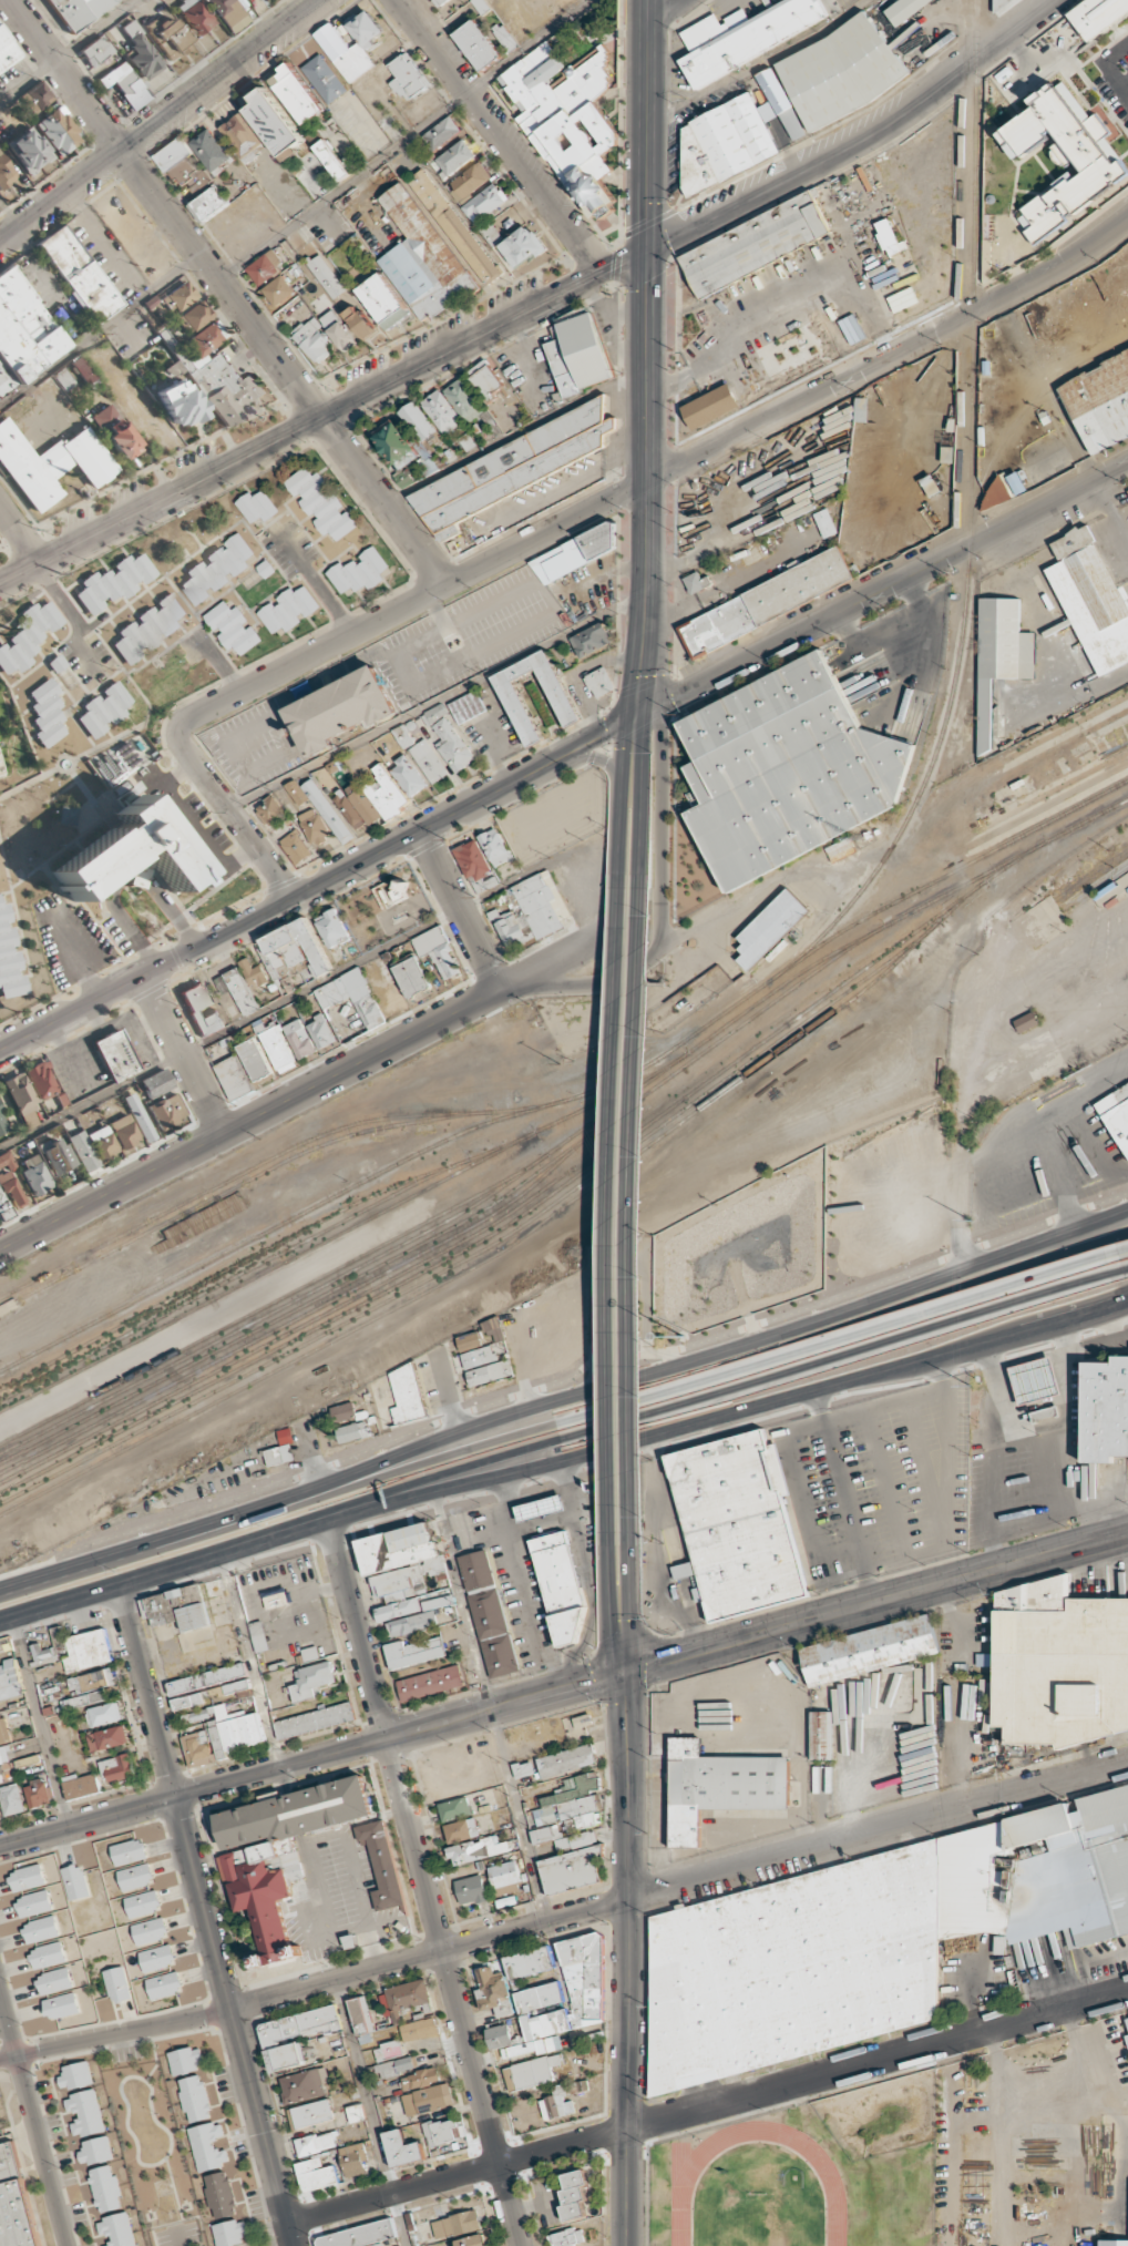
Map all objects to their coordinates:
building: (248, 0)
building: (439, 2)
building: (997, 2)
building: (481, 6)
road: (664, 7)
building: (903, 9)
building: (79, 11)
building: (228, 13)
building: (195, 16)
building: (1098, 16)
building: (366, 29)
building: (745, 34)
building: (170, 37)
building: (505, 37)
building: (478, 44)
road: (69, 51)
building: (96, 51)
building: (142, 52)
building: (7, 53)
building: (345, 53)
building: (840, 71)
building: (408, 78)
building: (324, 79)
building: (126, 85)
building: (296, 93)
building: (34, 99)
building: (781, 103)
building: (567, 120)
road: (161, 122)
building: (274, 122)
road: (646, 122)
building: (59, 132)
building: (441, 133)
road: (502, 133)
building: (242, 136)
road: (402, 139)
road: (858, 139)
building: (726, 143)
building: (29, 151)
building: (211, 151)
building: (1063, 156)
building: (454, 157)
building: (332, 160)
building: (184, 166)
building: (6, 174)
building: (470, 181)
building: (485, 203)
building: (209, 204)
building: (454, 227)
building: (493, 236)
building: (753, 243)
building: (523, 246)
building: (422, 258)
building: (265, 268)
building: (79, 274)
building: (326, 275)
building: (278, 290)
road: (227, 292)
building: (178, 298)
building: (383, 302)
building: (193, 317)
building: (359, 321)
road: (100, 328)
building: (338, 330)
building: (23, 333)
building: (312, 339)
building: (578, 353)
building: (83, 371)
building: (216, 376)
building: (63, 380)
building: (485, 380)
building: (1099, 399)
building: (464, 400)
building: (180, 404)
building: (709, 405)
building: (442, 411)
building: (103, 416)
road: (324, 416)
building: (120, 439)
building: (409, 440)
building: (50, 464)
building: (510, 469)
road: (659, 474)
road: (648, 483)
building: (930, 484)
building: (1004, 490)
building: (320, 503)
building: (257, 507)
railway: (966, 518)
building: (824, 522)
road: (20, 533)
building: (575, 552)
building: (217, 569)
building: (266, 569)
building: (359, 571)
building: (697, 582)
building: (114, 583)
road: (880, 591)
road: (54, 596)
building: (1091, 598)
building: (763, 601)
building: (288, 609)
building: (233, 627)
building: (148, 629)
building: (28, 637)
building: (591, 640)
road: (655, 643)
building: (998, 655)
building: (598, 682)
building: (561, 698)
traffic signals: (662, 704)
building: (466, 706)
building: (340, 708)
building: (104, 709)
building: (47, 714)
traffic signals: (634, 722)
building: (402, 736)
building: (448, 738)
railway: (1011, 757)
road: (601, 758)
road: (642, 759)
building: (428, 760)
road: (623, 760)
building: (1, 769)
building: (783, 772)
building: (408, 776)
railway: (987, 786)
building: (386, 793)
building: (362, 803)
building: (319, 806)
building: (349, 809)
road: (229, 810)
building: (269, 810)
railway: (1005, 815)
building: (314, 826)
road: (662, 839)
building: (295, 847)
building: (494, 847)
railway: (991, 851)
building: (127, 854)
building: (473, 860)
railway: (1100, 871)
road: (639, 882)
road: (316, 885)
railway: (1104, 885)
road: (619, 889)
railway: (964, 898)
road: (459, 910)
building: (526, 910)
railway: (889, 922)
building: (768, 927)
building: (332, 928)
road: (715, 937)
building: (438, 951)
building: (294, 954)
building: (10, 958)
building: (254, 973)
building: (412, 977)
road: (577, 984)
building: (237, 990)
building: (352, 996)
building: (195, 1007)
railway: (727, 1018)
building: (1026, 1022)
building: (320, 1031)
building: (299, 1039)
building: (276, 1047)
building: (116, 1055)
road: (183, 1055)
building: (254, 1059)
railway: (646, 1066)
building: (234, 1078)
building: (42, 1081)
building: (156, 1084)
road: (302, 1092)
building: (22, 1101)
building: (167, 1112)
building: (1117, 1114)
building: (140, 1117)
building: (3, 1124)
building: (124, 1132)
building: (103, 1143)
building: (83, 1152)
building: (57, 1155)
building: (7, 1161)
railway: (267, 1171)
building: (35, 1175)
railway: (216, 1185)
building: (9, 1195)
railway: (504, 1216)
railway: (455, 1223)
railway: (505, 1227)
railway: (387, 1231)
road: (1125, 1245)
road: (634, 1248)
road: (612, 1254)
railway: (254, 1255)
road: (1126, 1264)
railway: (342, 1265)
railway: (271, 1269)
railway: (455, 1275)
railway: (223, 1282)
railway: (245, 1294)
railway: (260, 1318)
railway: (294, 1320)
railway: (434, 1325)
building: (494, 1329)
railway: (64, 1337)
building: (469, 1341)
road: (724, 1349)
building: (479, 1357)
railway: (271, 1362)
building: (490, 1372)
road: (721, 1372)
building: (1034, 1379)
road: (725, 1389)
road: (447, 1390)
building: (407, 1395)
building: (1105, 1409)
building: (343, 1412)
building: (1043, 1412)
road: (730, 1420)
railway: (265, 1425)
building: (352, 1431)
road: (310, 1453)
building: (279, 1454)
building: (541, 1507)
building: (737, 1525)
road: (160, 1540)
building: (403, 1570)
road: (614, 1572)
road: (625, 1572)
road: (164, 1574)
building: (562, 1585)
building: (276, 1600)
road: (876, 1602)
building: (178, 1607)
building: (489, 1612)
building: (419, 1617)
building: (259, 1635)
building: (75, 1648)
building: (869, 1650)
building: (414, 1652)
building: (310, 1653)
road: (250, 1662)
building: (1056, 1663)
traffic signals: (625, 1672)
building: (207, 1678)
building: (311, 1680)
building: (10, 1681)
building: (91, 1682)
building: (429, 1682)
road: (146, 1693)
building: (209, 1694)
building: (86, 1698)
road: (490, 1711)
building: (104, 1714)
building: (314, 1719)
building: (4, 1731)
road: (400, 1734)
building: (821, 1734)
building: (106, 1737)
building: (4, 1755)
building: (566, 1760)
building: (117, 1767)
building: (523, 1769)
building: (0, 1779)
building: (81, 1786)
building: (718, 1787)
building: (38, 1793)
building: (12, 1799)
building: (573, 1804)
building: (454, 1807)
building: (294, 1813)
road: (88, 1820)
building: (460, 1829)
building: (563, 1837)
building: (474, 1849)
building: (127, 1851)
building: (381, 1864)
building: (571, 1870)
building: (25, 1876)
building: (134, 1876)
building: (505, 1878)
building: (74, 1880)
road: (421, 1885)
building: (471, 1889)
building: (264, 1891)
parking lot: (337, 1897)
building: (32, 1902)
building: (142, 1902)
road: (564, 1912)
building: (40, 1928)
road: (624, 1929)
building: (148, 1930)
building: (870, 1938)
building: (47, 1954)
building: (156, 1957)
building: (527, 1961)
building: (53, 1980)
building: (584, 1980)
building: (116, 1983)
building: (163, 1984)
building: (492, 1987)
building: (409, 1995)
building: (537, 1997)
building: (60, 2004)
building: (361, 2019)
road: (234, 2021)
building: (1126, 2023)
building: (545, 2024)
building: (419, 2029)
building: (499, 2036)
building: (1127, 2039)
building: (530, 2048)
building: (389, 2050)
building: (287, 2055)
building: (184, 2061)
building: (394, 2066)
building: (530, 2072)
building: (1046, 2072)
building: (75, 2075)
building: (420, 2079)
building: (304, 2084)
building: (195, 2099)
building: (428, 2100)
building: (562, 2100)
road: (708, 2106)
building: (355, 2112)
road: (368, 2112)
building: (85, 2113)
building: (310, 2114)
road: (32, 2122)
building: (439, 2131)
building: (315, 2143)
building: (207, 2146)
building: (402, 2147)
building: (95, 2150)
building: (352, 2160)
building: (316, 2175)
building: (105, 2188)
building: (219, 2195)
building: (573, 2195)
building: (14, 2201)
park: (756, 2218)
building: (457, 2224)
building: (116, 2229)
building: (229, 2233)
building: (359, 2235)
building: (566, 2237)
road: (274, 2240)
building: (1114, 2243)

